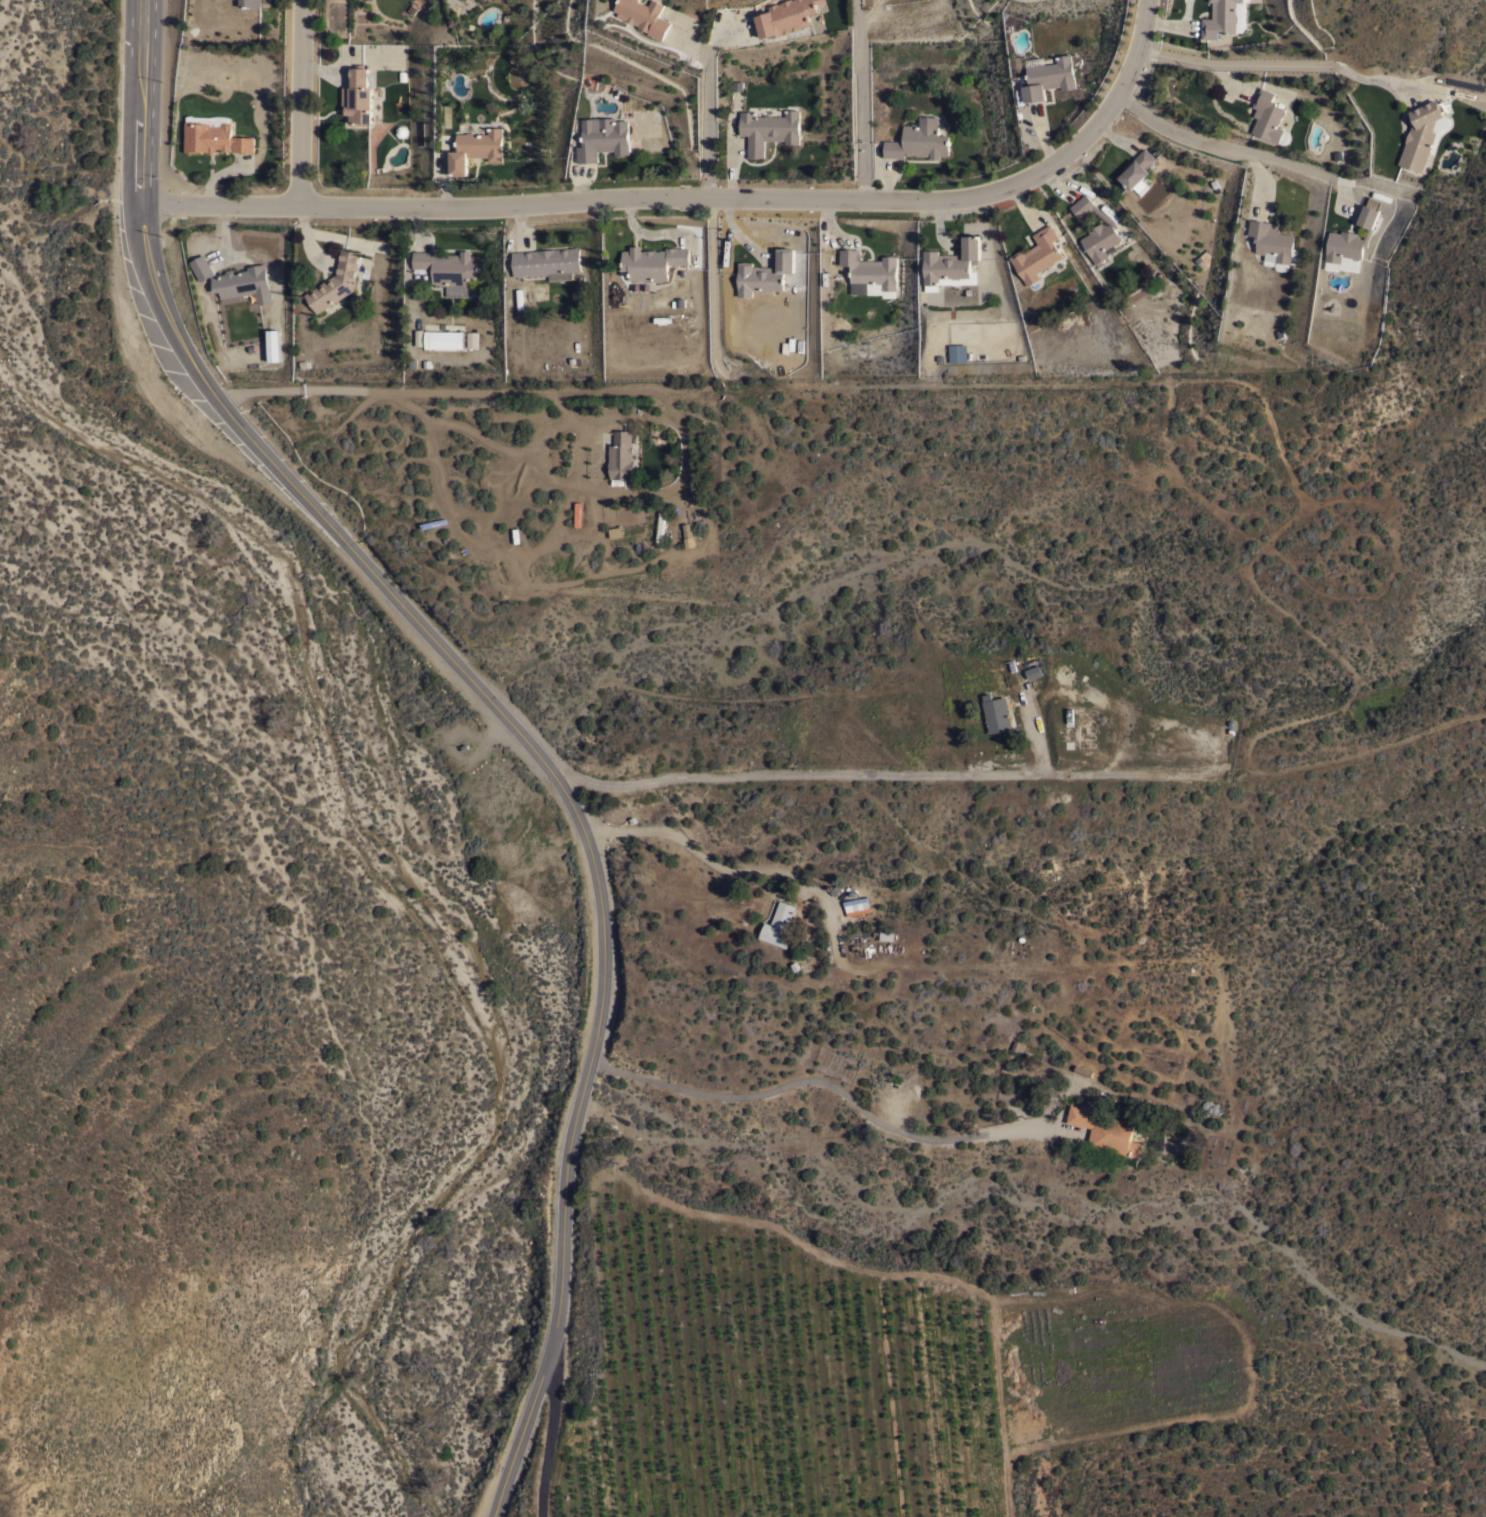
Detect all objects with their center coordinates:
building: (249, 2)
building: (644, 15)
road: (1145, 15)
building: (785, 16)
building: (1219, 18)
road: (1271, 66)
building: (1048, 77)
building: (357, 95)
road: (862, 100)
road: (298, 103)
road: (709, 110)
building: (1267, 115)
building: (769, 129)
building: (1420, 134)
building: (602, 137)
building: (214, 138)
building: (919, 140)
building: (477, 148)
road: (1232, 153)
building: (1137, 169)
road: (682, 198)
building: (1097, 230)
building: (1352, 236)
building: (1272, 242)
building: (1037, 254)
building: (1202, 259)
building: (652, 261)
building: (951, 261)
building: (547, 262)
building: (448, 269)
building: (764, 273)
building: (869, 273)
building: (235, 279)
building: (336, 281)
building: (443, 339)
building: (470, 340)
building: (957, 352)
building: (620, 455)
building: (660, 526)
building: (615, 531)
building: (688, 535)
building: (1033, 671)
road: (509, 711)
building: (996, 713)
road: (836, 776)
road: (717, 872)
building: (858, 906)
building: (778, 924)
building: (886, 935)
building: (1082, 1070)
road: (812, 1081)
building: (1107, 1130)
crop: (859, 1375)
road: (548, 1449)

